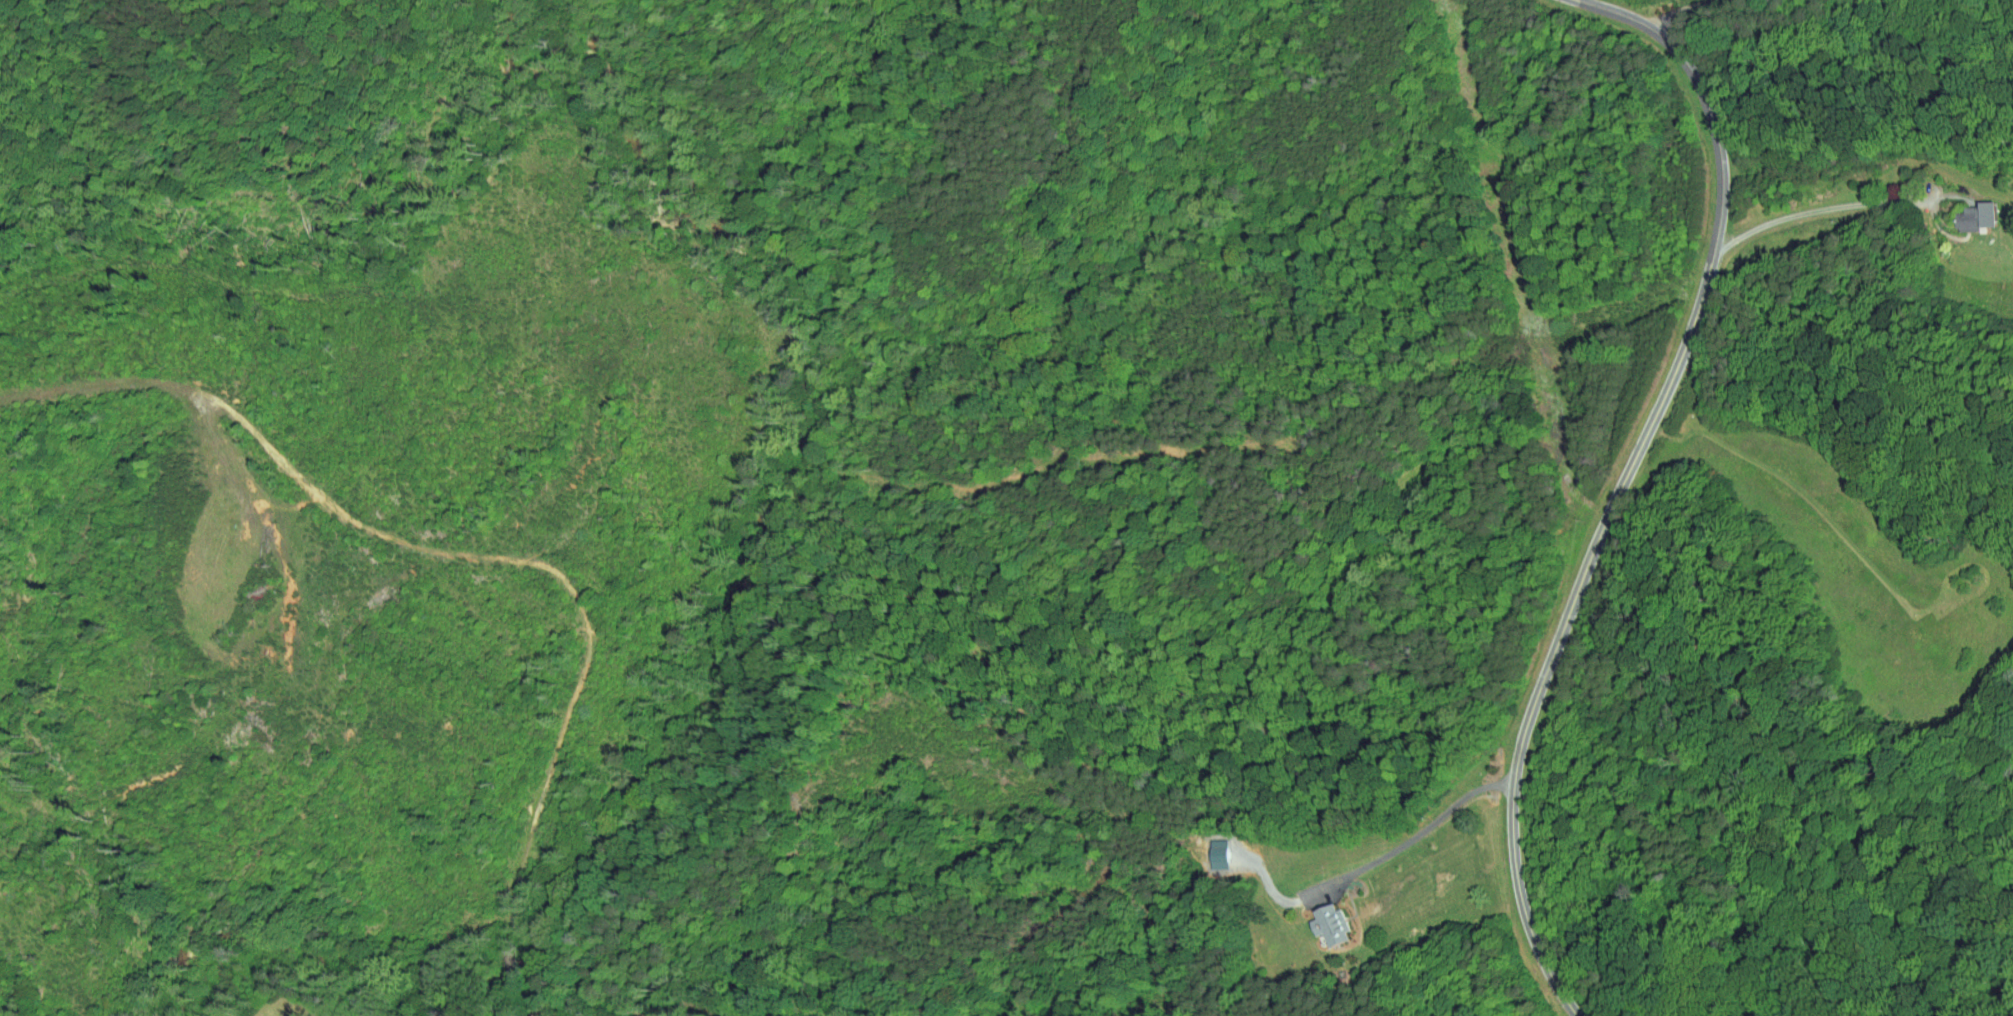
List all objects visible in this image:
road: (1680, 9)
road: (212, 22)
park: (169, 28)
road: (310, 44)
building: (1967, 210)
road: (1817, 211)
building: (1979, 216)
road: (790, 291)
road: (1624, 479)
road: (436, 553)
road: (1409, 840)
building: (1320, 918)
building: (1333, 925)
road: (511, 935)
road: (511, 968)
road: (295, 979)
road: (515, 1001)
road: (453, 1006)

